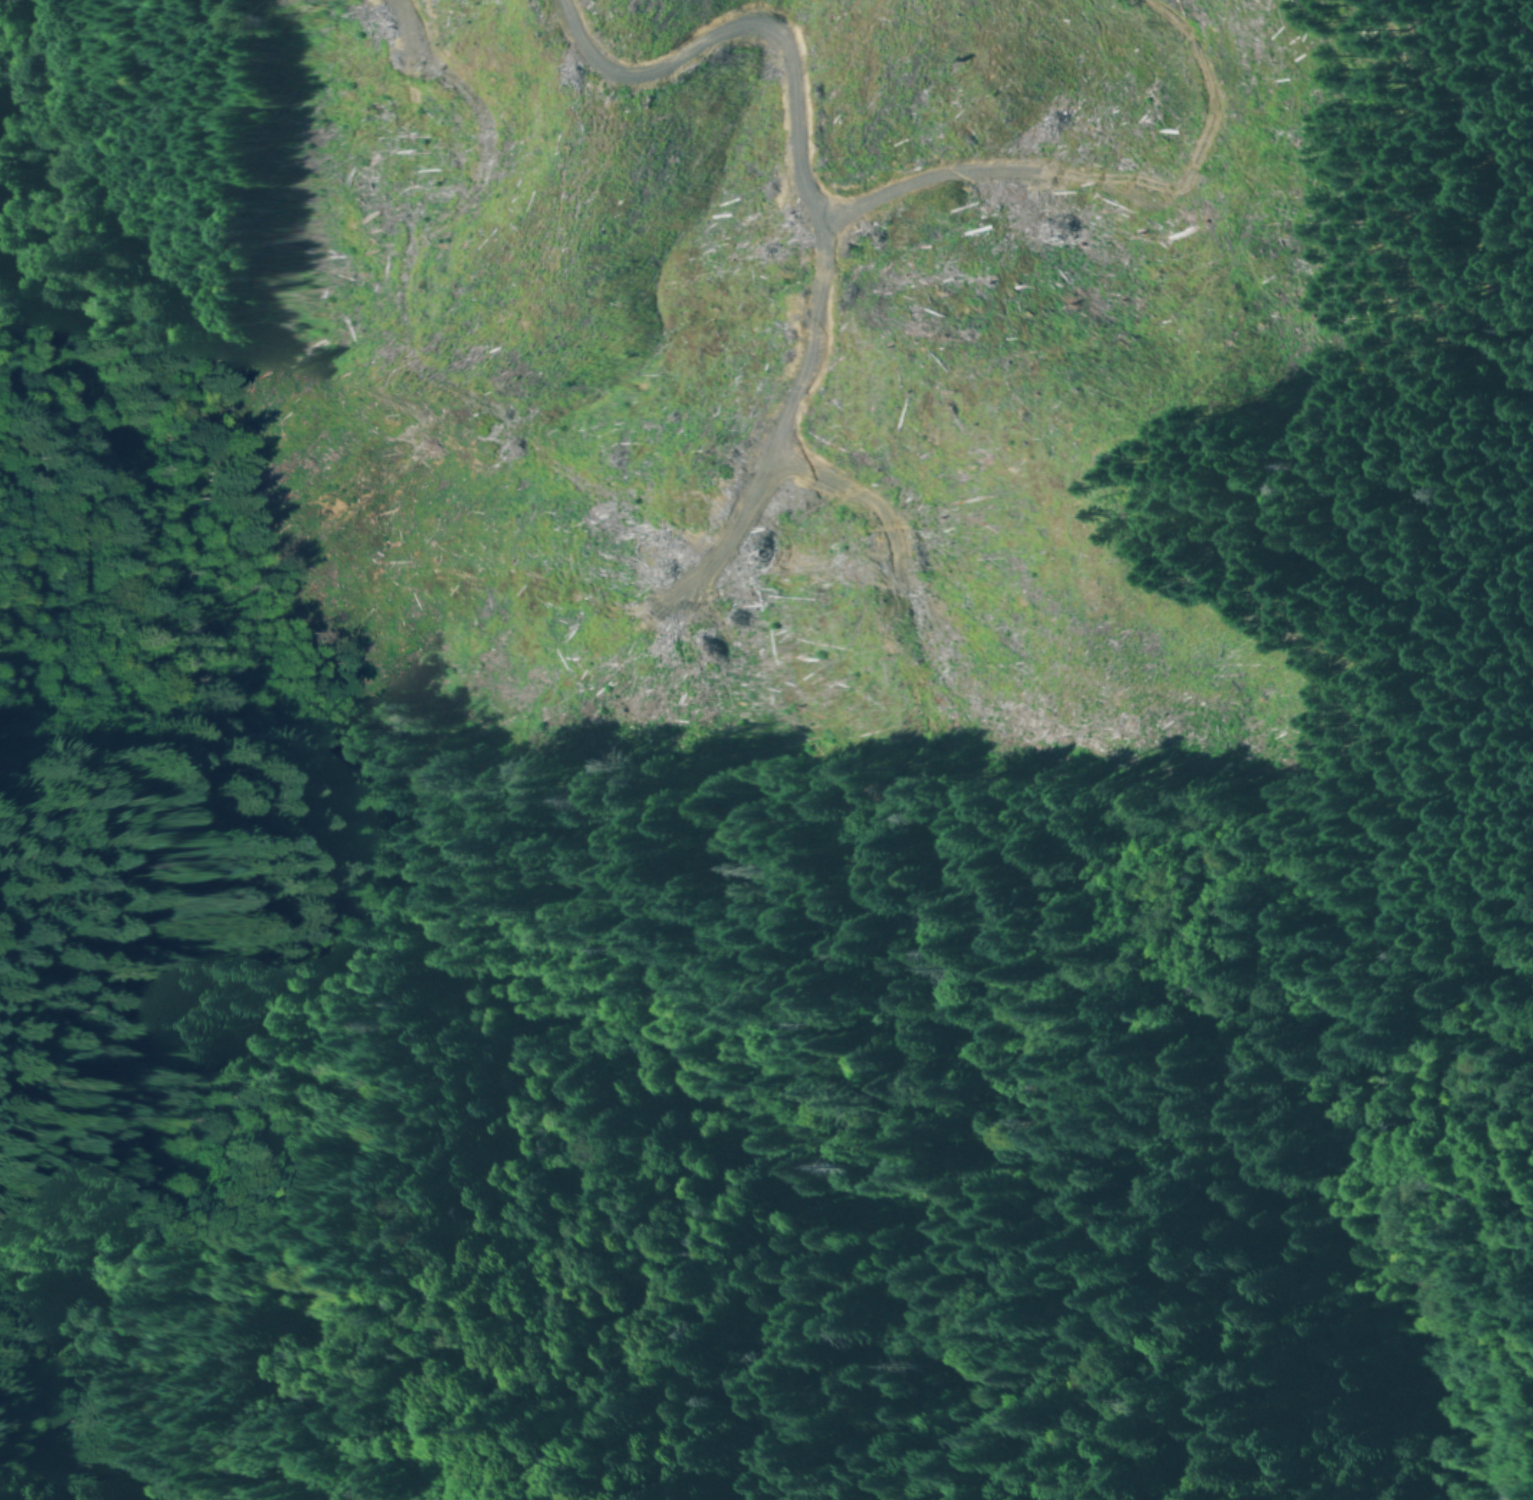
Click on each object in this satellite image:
road: (1480, 28)
road: (1490, 102)

